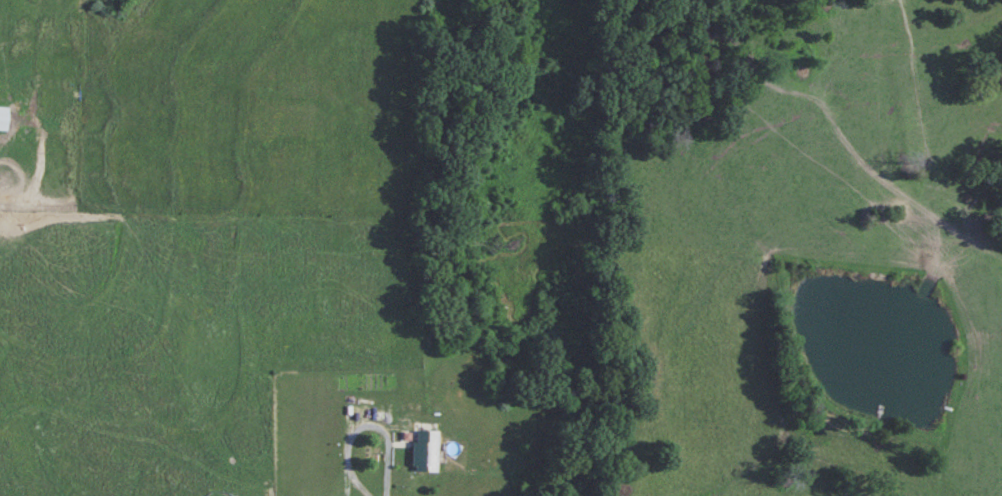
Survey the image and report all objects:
building: (3, 118)
road: (361, 422)
building: (424, 451)

